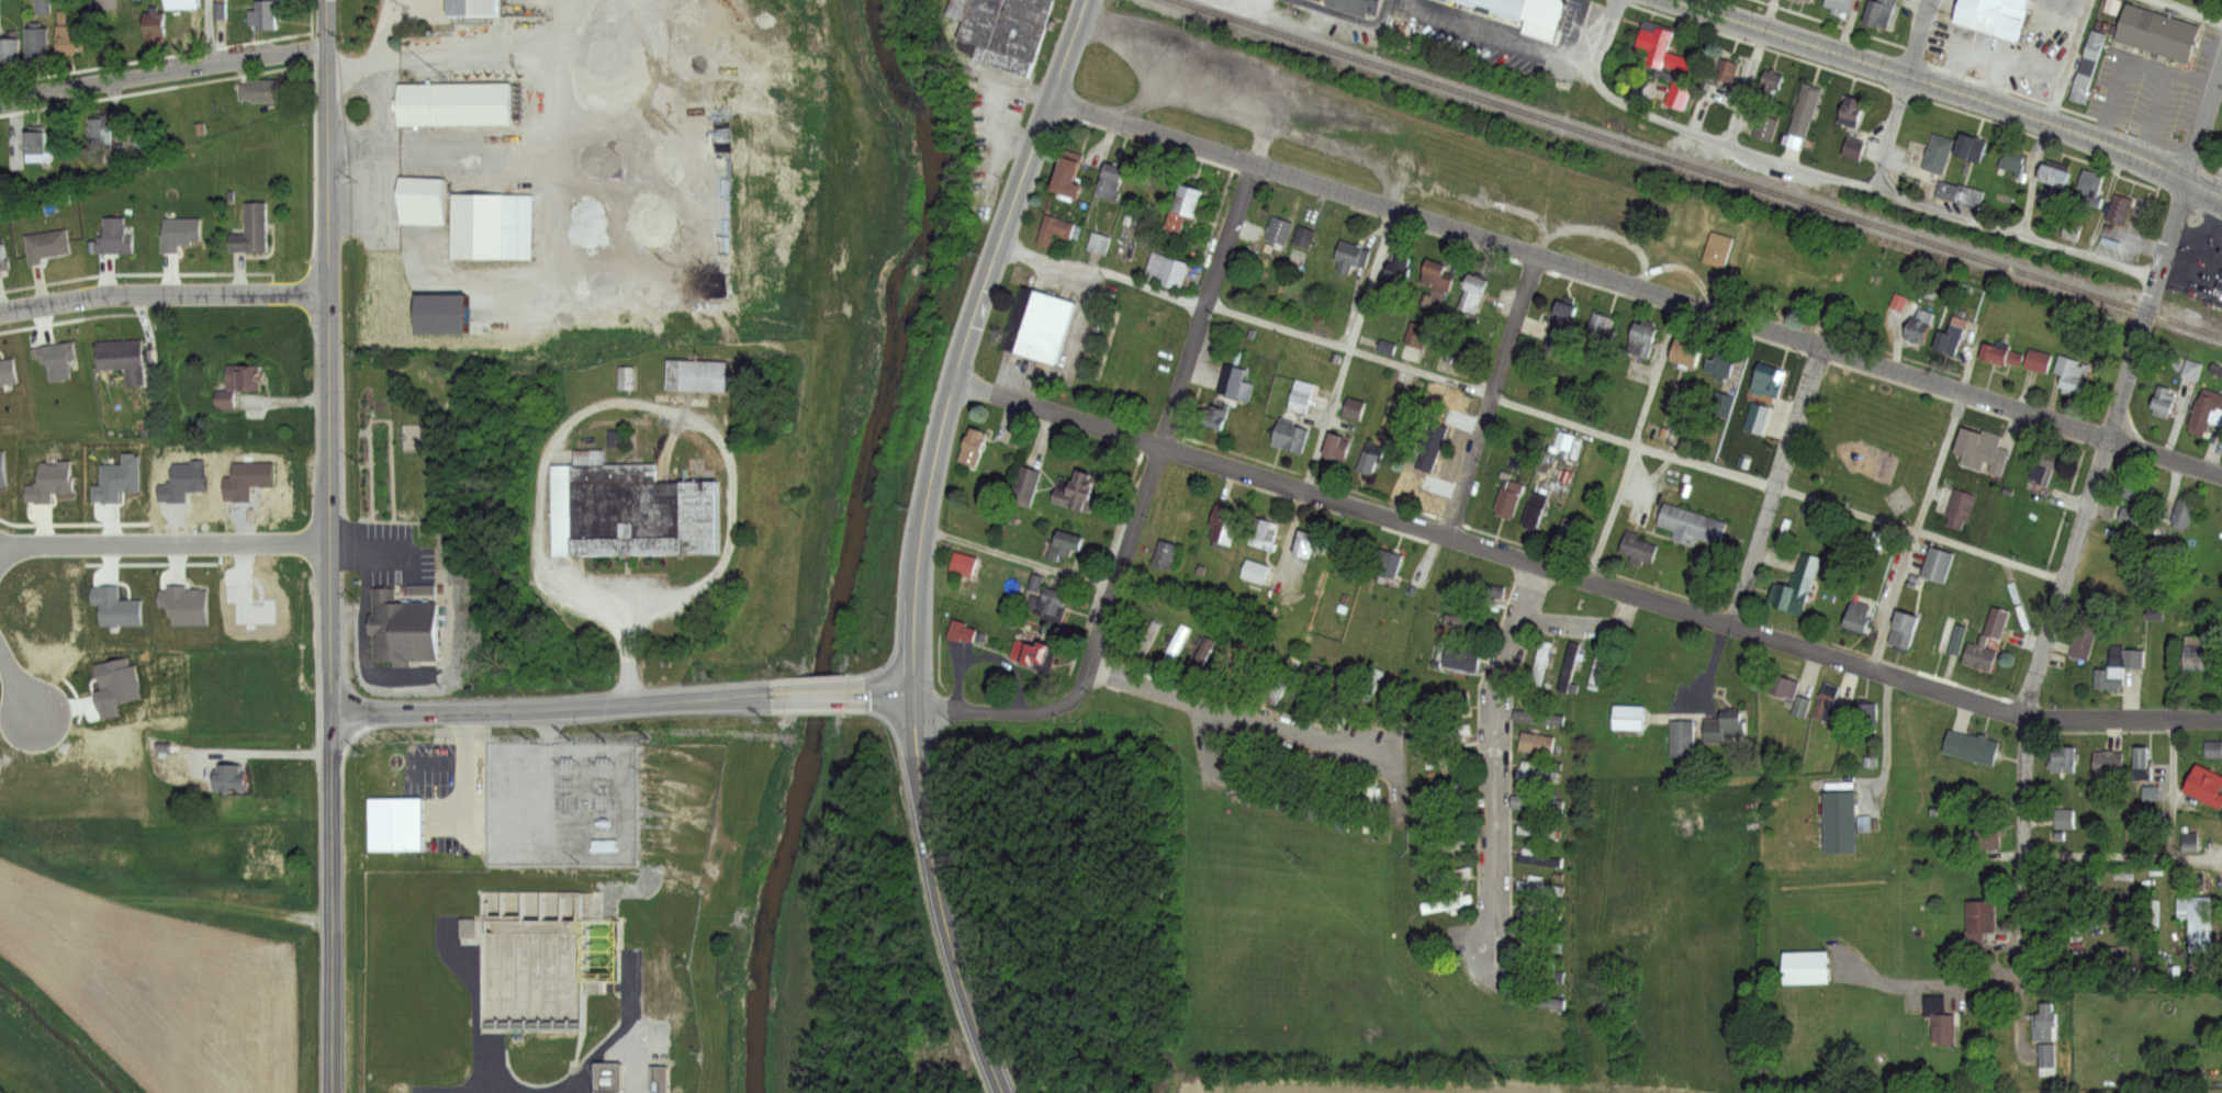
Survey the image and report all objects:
building: (1803, 1)
building: (1809, 1)
building: (2065, 1)
road: (1423, 2)
building: (182, 3)
building: (1358, 3)
building: (106, 4)
building: (41, 5)
building: (1841, 5)
building: (468, 7)
building: (965, 9)
building: (1526, 11)
building: (1882, 12)
road: (2186, 12)
building: (265, 14)
building: (1994, 14)
building: (156, 24)
building: (2156, 26)
road: (209, 31)
building: (72, 32)
building: (1009, 33)
road: (1512, 36)
building: (38, 45)
building: (9, 49)
building: (1665, 49)
road: (375, 55)
road: (419, 56)
building: (2085, 66)
building: (1727, 69)
road: (161, 70)
road: (1753, 71)
road: (1933, 87)
building: (1769, 88)
building: (265, 91)
building: (1681, 93)
road: (1898, 93)
building: (449, 102)
building: (1805, 109)
building: (1852, 114)
road: (2053, 116)
building: (1766, 128)
building: (104, 131)
building: (38, 143)
building: (1855, 148)
building: (1972, 148)
road: (441, 149)
building: (1940, 154)
building: (2016, 165)
railway: (1699, 168)
road: (1832, 176)
building: (1073, 178)
building: (2058, 178)
building: (1114, 183)
building: (2092, 189)
road: (2206, 192)
building: (1963, 193)
building: (417, 200)
building: (1187, 209)
building: (2121, 210)
building: (486, 225)
road: (558, 228)
building: (252, 230)
building: (1055, 230)
building: (1281, 230)
building: (182, 233)
building: (115, 235)
building: (1304, 236)
building: (1098, 243)
building: (47, 245)
building: (1720, 249)
building: (1353, 257)
building: (4, 259)
building: (1392, 267)
building: (1168, 270)
road: (1107, 271)
building: (1399, 278)
building: (1438, 279)
building: (2219, 282)
road: (1637, 289)
road: (164, 295)
building: (1474, 295)
building: (1041, 326)
building: (1921, 326)
building: (1563, 327)
building: (1603, 329)
building: (1952, 334)
building: (1417, 336)
road: (968, 338)
building: (1643, 341)
road: (1349, 351)
road: (329, 353)
building: (1691, 354)
building: (2004, 356)
building: (58, 358)
building: (124, 359)
building: (2039, 361)
building: (696, 369)
building: (1724, 370)
building: (2195, 370)
building: (8, 372)
building: (2074, 374)
building: (622, 378)
building: (247, 379)
building: (1771, 381)
building: (1237, 383)
road: (2121, 392)
road: (1492, 396)
building: (1304, 397)
building: (2165, 403)
building: (1718, 404)
building: (1357, 409)
building: (2207, 409)
road: (673, 414)
building: (1219, 418)
building: (1759, 419)
road: (1168, 428)
building: (1293, 436)
park: (1870, 440)
building: (1561, 441)
road: (1636, 441)
road: (1635, 447)
building: (1338, 448)
building: (975, 449)
building: (1984, 451)
building: (1373, 458)
building: (2, 467)
building: (2047, 467)
building: (117, 478)
building: (248, 478)
building: (183, 480)
building: (1418, 480)
building: (49, 481)
road: (1776, 485)
building: (1025, 488)
building: (1080, 492)
building: (2141, 494)
building: (1512, 498)
building: (629, 500)
building: (1961, 508)
building: (1538, 510)
building: (1181, 514)
building: (2186, 514)
building: (2132, 519)
building: (1227, 526)
building: (1694, 526)
road: (1916, 530)
building: (1570, 531)
building: (1265, 534)
river: (850, 538)
road: (165, 541)
building: (1313, 545)
building: (1067, 546)
building: (1639, 548)
parking lot: (384, 551)
building: (1167, 556)
building: (1349, 563)
building: (1387, 564)
building: (965, 565)
building: (1940, 566)
building: (1257, 572)
road: (1583, 577)
building: (1798, 588)
building: (1480, 589)
building: (249, 605)
building: (1051, 605)
building: (186, 606)
building: (116, 607)
building: (1862, 617)
building: (1471, 623)
road: (1586, 623)
building: (1998, 623)
building: (401, 626)
building: (1907, 631)
building: (966, 633)
building: (2085, 633)
building: (1944, 636)
building: (1148, 641)
building: (1193, 643)
building: (1176, 647)
building: (2198, 651)
building: (1982, 654)
building: (1033, 655)
building: (2125, 656)
building: (1200, 660)
building: (1459, 661)
building: (1542, 662)
building: (1570, 665)
building: (1225, 666)
building: (1598, 666)
building: (1255, 676)
building: (1286, 678)
building: (2110, 681)
road: (18, 684)
building: (114, 685)
building: (1785, 685)
building: (1273, 688)
building: (1310, 688)
building: (1354, 688)
road: (894, 690)
road: (817, 691)
building: (1369, 692)
building: (1337, 696)
building: (1830, 700)
building: (1394, 701)
building: (1451, 702)
road: (548, 703)
building: (1804, 706)
road: (1001, 707)
building: (1866, 713)
road: (1270, 717)
building: (1540, 717)
building: (1631, 717)
building: (1728, 725)
building: (1449, 732)
building: (1684, 737)
building: (1540, 742)
building: (1969, 744)
road: (277, 748)
building: (2211, 748)
building: (2062, 758)
road: (458, 760)
building: (1237, 760)
building: (1450, 760)
building: (2106, 760)
building: (2139, 762)
road: (1496, 770)
building: (229, 771)
building: (1262, 771)
building: (1538, 771)
building: (1289, 780)
building: (2204, 782)
building: (1317, 788)
building: (1450, 788)
road: (2171, 789)
building: (2148, 792)
power substation: (560, 795)
building: (1344, 800)
building: (1540, 802)
building: (1372, 803)
building: (396, 815)
building: (1449, 818)
building: (1843, 818)
building: (2062, 818)
building: (1540, 830)
building: (1984, 838)
building: (2189, 840)
building: (1451, 845)
building: (1539, 857)
road: (2122, 857)
building: (1451, 875)
road: (2021, 883)
building: (1542, 886)
road: (941, 895)
road: (334, 901)
building: (1452, 903)
building: (1542, 912)
building: (1978, 915)
building: (2196, 922)
building: (1542, 944)
building: (1808, 967)
building: (541, 970)
building: (1544, 972)
crop: (141, 974)
wastewater plant: (528, 980)
road: (1938, 985)
building: (1542, 1000)
building: (1943, 1019)
building: (2045, 1023)
building: (2046, 1059)

